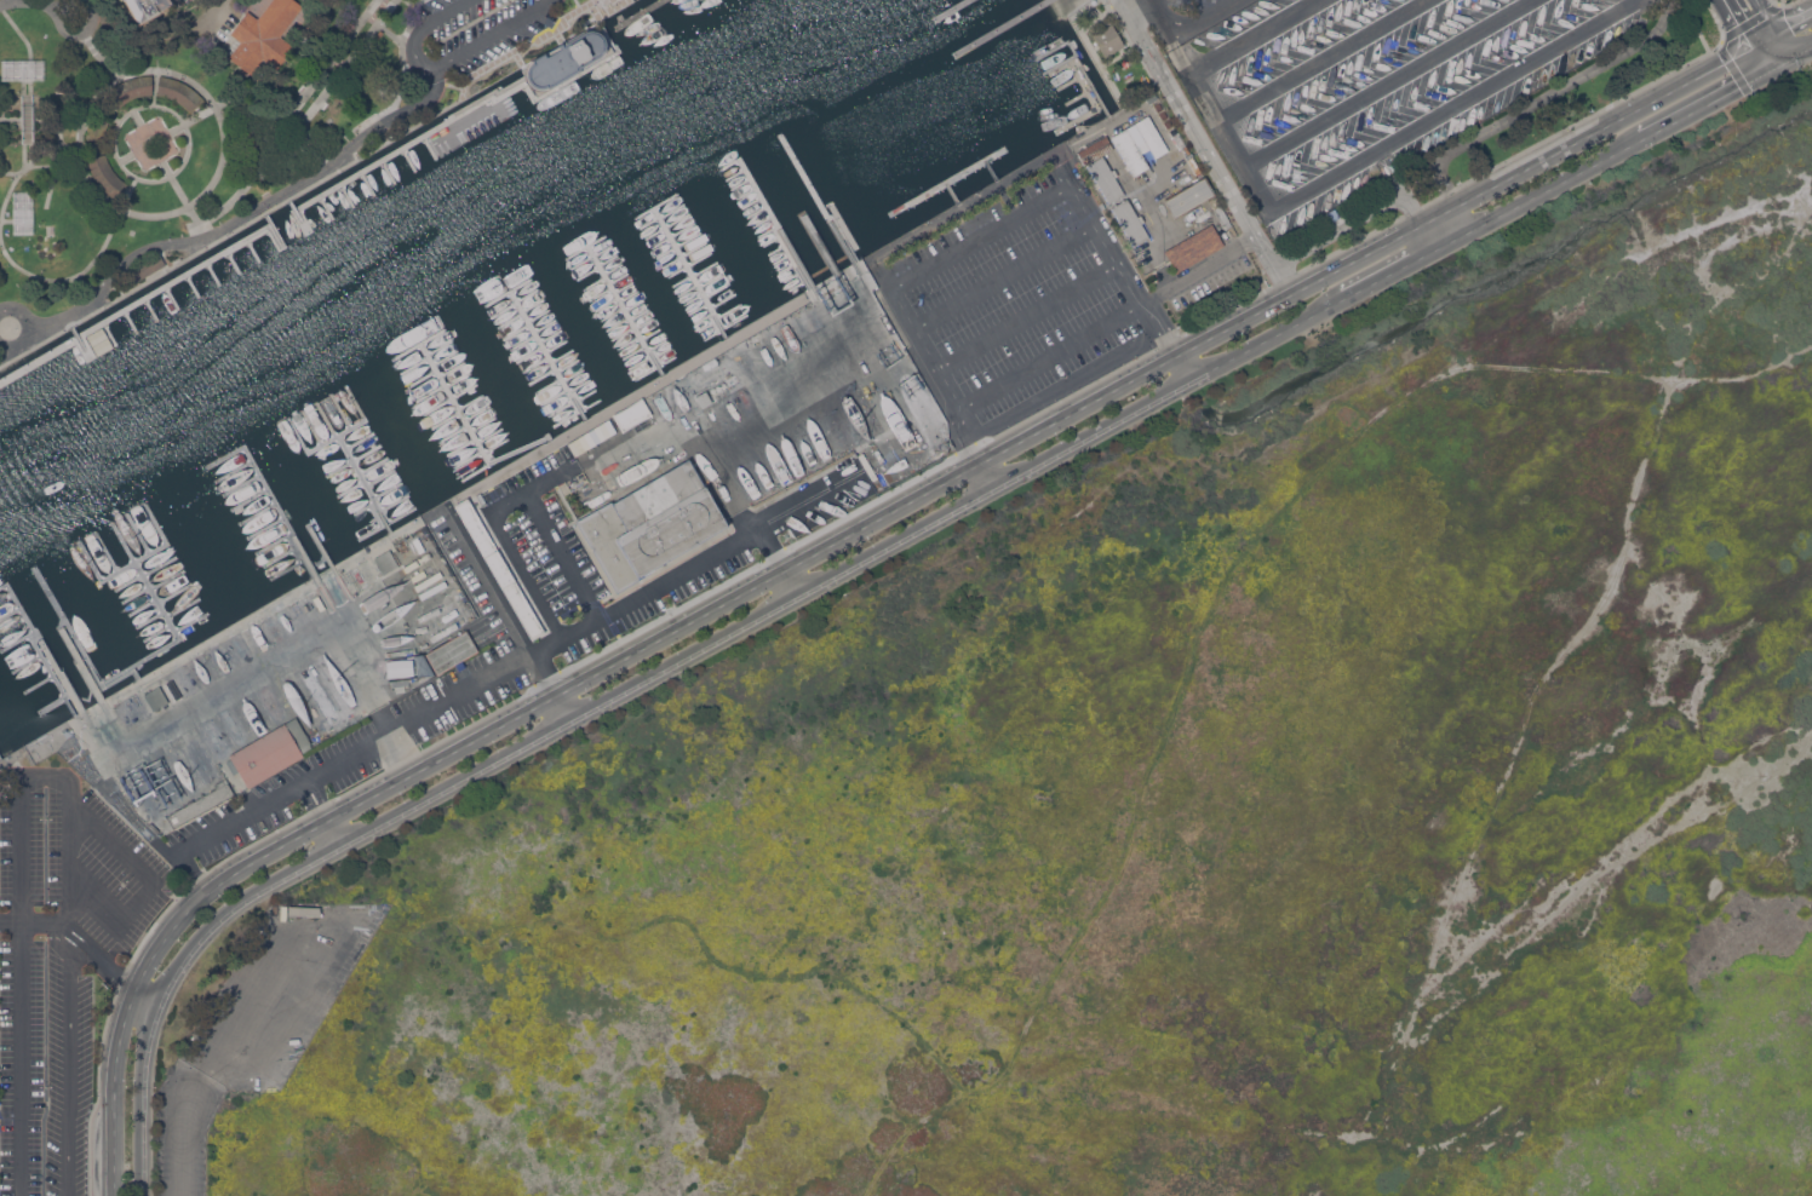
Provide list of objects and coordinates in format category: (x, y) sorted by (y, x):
road: (1154, 0)
parking lot: (180, 2)
road: (29, 4)
road: (1784, 4)
building: (147, 8)
pier: (954, 11)
pier: (641, 13)
road: (1162, 15)
parking lot: (1182, 16)
road: (1766, 16)
road: (1208, 19)
road: (1794, 22)
road: (1738, 23)
road: (58, 25)
road: (1693, 25)
pier: (1003, 29)
road: (388, 31)
parking lot: (471, 31)
traffic signals: (1776, 33)
building: (264, 35)
road: (1257, 36)
road: (1725, 38)
building: (1107, 39)
road: (1764, 40)
road: (1783, 45)
traffic signals: (1753, 47)
road: (1801, 50)
road: (99, 56)
traffic signals: (1790, 57)
road: (1759, 58)
road: (448, 59)
building: (563, 59)
road: (1323, 59)
pier: (1079, 63)
road: (1778, 63)
pier: (1060, 64)
traffic signals: (1766, 70)
pier: (1072, 81)
road: (1390, 84)
road: (154, 87)
building: (130, 88)
road: (328, 88)
building: (178, 91)
pier: (1080, 97)
road: (1542, 98)
road: (155, 104)
road: (1703, 104)
road: (104, 111)
road: (297, 113)
road: (288, 116)
pier: (1080, 119)
road: (1188, 120)
park: (211, 123)
road: (141, 125)
building: (97, 126)
road: (1602, 126)
building: (1151, 136)
building: (1137, 137)
road: (151, 139)
pier: (409, 142)
pier: (428, 146)
building: (1095, 149)
road: (133, 150)
building: (1129, 151)
pier: (744, 155)
pier: (407, 159)
pier: (762, 159)
road: (1365, 159)
pier: (769, 169)
pier: (992, 169)
pier: (386, 171)
road: (316, 173)
building: (104, 176)
pier: (738, 176)
building: (1105, 178)
pier: (366, 182)
pier: (775, 182)
pier: (947, 182)
road: (1552, 185)
pier: (745, 186)
pier: (781, 192)
pier: (952, 192)
pier: (345, 194)
building: (1189, 196)
pier: (751, 199)
pier: (787, 203)
pier: (325, 206)
pier: (654, 208)
pier: (757, 209)
road: (131, 212)
pier: (297, 214)
pier: (795, 214)
building: (1221, 214)
road: (1437, 214)
building: (1330, 215)
pier: (660, 217)
pier: (781, 219)
road: (1458, 219)
pier: (763, 220)
road: (0, 222)
building: (1130, 222)
pier: (801, 225)
road: (1351, 225)
pier: (271, 228)
pier: (665, 228)
pier: (807, 236)
road: (1427, 236)
pier: (671, 237)
road: (981, 237)
road: (1449, 241)
pier: (586, 247)
pier: (677, 247)
pier: (814, 247)
building: (1193, 247)
pier: (252, 248)
pier: (592, 255)
pier: (682, 255)
pier: (820, 258)
pier: (609, 259)
pier: (231, 260)
pier: (688, 265)
road: (1273, 266)
building: (145, 268)
pier: (614, 268)
pier: (827, 270)
road: (1198, 271)
pier: (211, 272)
pier: (589, 272)
pier: (690, 272)
road: (1388, 274)
pier: (619, 277)
road: (1003, 278)
pier: (683, 281)
pier: (595, 283)
pier: (190, 284)
pier: (625, 287)
pier: (785, 287)
pier: (757, 289)
road: (1298, 289)
pier: (689, 291)
building: (849, 291)
pier: (509, 292)
pier: (601, 293)
pier: (630, 295)
pier: (171, 297)
pier: (694, 300)
building: (826, 301)
pier: (516, 303)
pier: (134, 304)
pier: (535, 305)
pier: (607, 305)
pier: (636, 305)
parking lot: (1019, 306)
pier: (150, 309)
pier: (699, 309)
pier: (625, 310)
pier: (641, 314)
pier: (540, 315)
pier: (613, 315)
pier: (704, 317)
road: (1027, 318)
pier: (130, 320)
pier: (742, 320)
pier: (511, 321)
pier: (646, 323)
pier: (546, 324)
pier: (619, 324)
road: (23, 326)
pier: (709, 326)
road: (1160, 327)
pier: (517, 332)
pier: (107, 333)
pier: (653, 333)
pier: (624, 334)
pier: (552, 337)
road: (1267, 339)
pier: (78, 341)
pier: (524, 343)
pier: (630, 343)
pier: (418, 344)
pier: (658, 344)
pier: (558, 345)
pier: (441, 347)
road: (7, 353)
pier: (531, 353)
pier: (635, 353)
pier: (549, 355)
pier: (563, 355)
road: (1049, 357)
pier: (652, 358)
pier: (537, 364)
pier: (415, 366)
pier: (569, 366)
road: (1183, 367)
pier: (453, 368)
pier: (656, 369)
road: (1628, 373)
pier: (543, 375)
pier: (574, 375)
pier: (423, 379)
pier: (459, 379)
pier: (549, 386)
pier: (583, 389)
pier: (430, 392)
pier: (451, 397)
pier: (555, 397)
pier: (587, 397)
building: (704, 398)
pier: (471, 401)
pier: (458, 407)
pier: (562, 408)
road: (1079, 408)
pier: (340, 412)
pier: (478, 412)
pier: (579, 414)
building: (631, 414)
pier: (327, 419)
pier: (446, 420)
pier: (484, 424)
pier: (312, 427)
pier: (453, 433)
road: (1094, 433)
pier: (491, 435)
pier: (338, 436)
road: (969, 436)
pier: (361, 441)
building: (583, 443)
pier: (460, 447)
pier: (497, 447)
pier: (354, 460)
pier: (468, 460)
pier: (374, 465)
pier: (489, 466)
pier: (234, 471)
road: (990, 473)
pier: (382, 478)
pier: (366, 484)
pier: (242, 485)
pier: (351, 489)
pier: (388, 490)
pier: (270, 493)
pier: (251, 500)
pier: (395, 502)
pier: (365, 508)
pier: (258, 513)
road: (884, 514)
pier: (388, 523)
building: (650, 523)
pier: (266, 528)
pier: (138, 533)
road: (500, 536)
road: (804, 540)
road: (899, 540)
pier: (274, 544)
pier: (321, 546)
pier: (107, 551)
pier: (281, 556)
road: (563, 556)
building: (385, 560)
pier: (134, 562)
pier: (288, 569)
pier: (147, 573)
building: (345, 573)
road: (669, 581)
road: (793, 581)
road: (494, 585)
pier: (154, 586)
pier: (176, 593)
pier: (143, 608)
pier: (184, 608)
pier: (10, 613)
pier: (150, 620)
pier: (193, 622)
road: (671, 632)
pier: (157, 633)
parking lot: (482, 639)
pier: (17, 640)
pier: (41, 644)
road: (1701, 650)
building: (452, 651)
road: (686, 656)
pier: (29, 662)
pier: (142, 662)
pier: (81, 665)
pier: (136, 673)
road: (545, 674)
road: (365, 679)
road: (237, 682)
pier: (41, 683)
building: (156, 697)
pier: (56, 703)
road: (1531, 703)
road: (563, 707)
road: (418, 717)
road: (18, 752)
building: (269, 752)
road: (441, 758)
road: (454, 781)
road: (305, 782)
road: (1143, 782)
road: (317, 793)
road: (308, 798)
building: (197, 805)
road: (322, 813)
road: (240, 816)
road: (333, 832)
road: (154, 882)
road: (23, 891)
road: (82, 908)
road: (681, 918)
road: (85, 944)
parking lot: (61, 961)
road: (145, 965)
road: (170, 979)
parking lot: (254, 1024)
road: (281, 1031)
road: (211, 1057)
road: (69, 1060)

